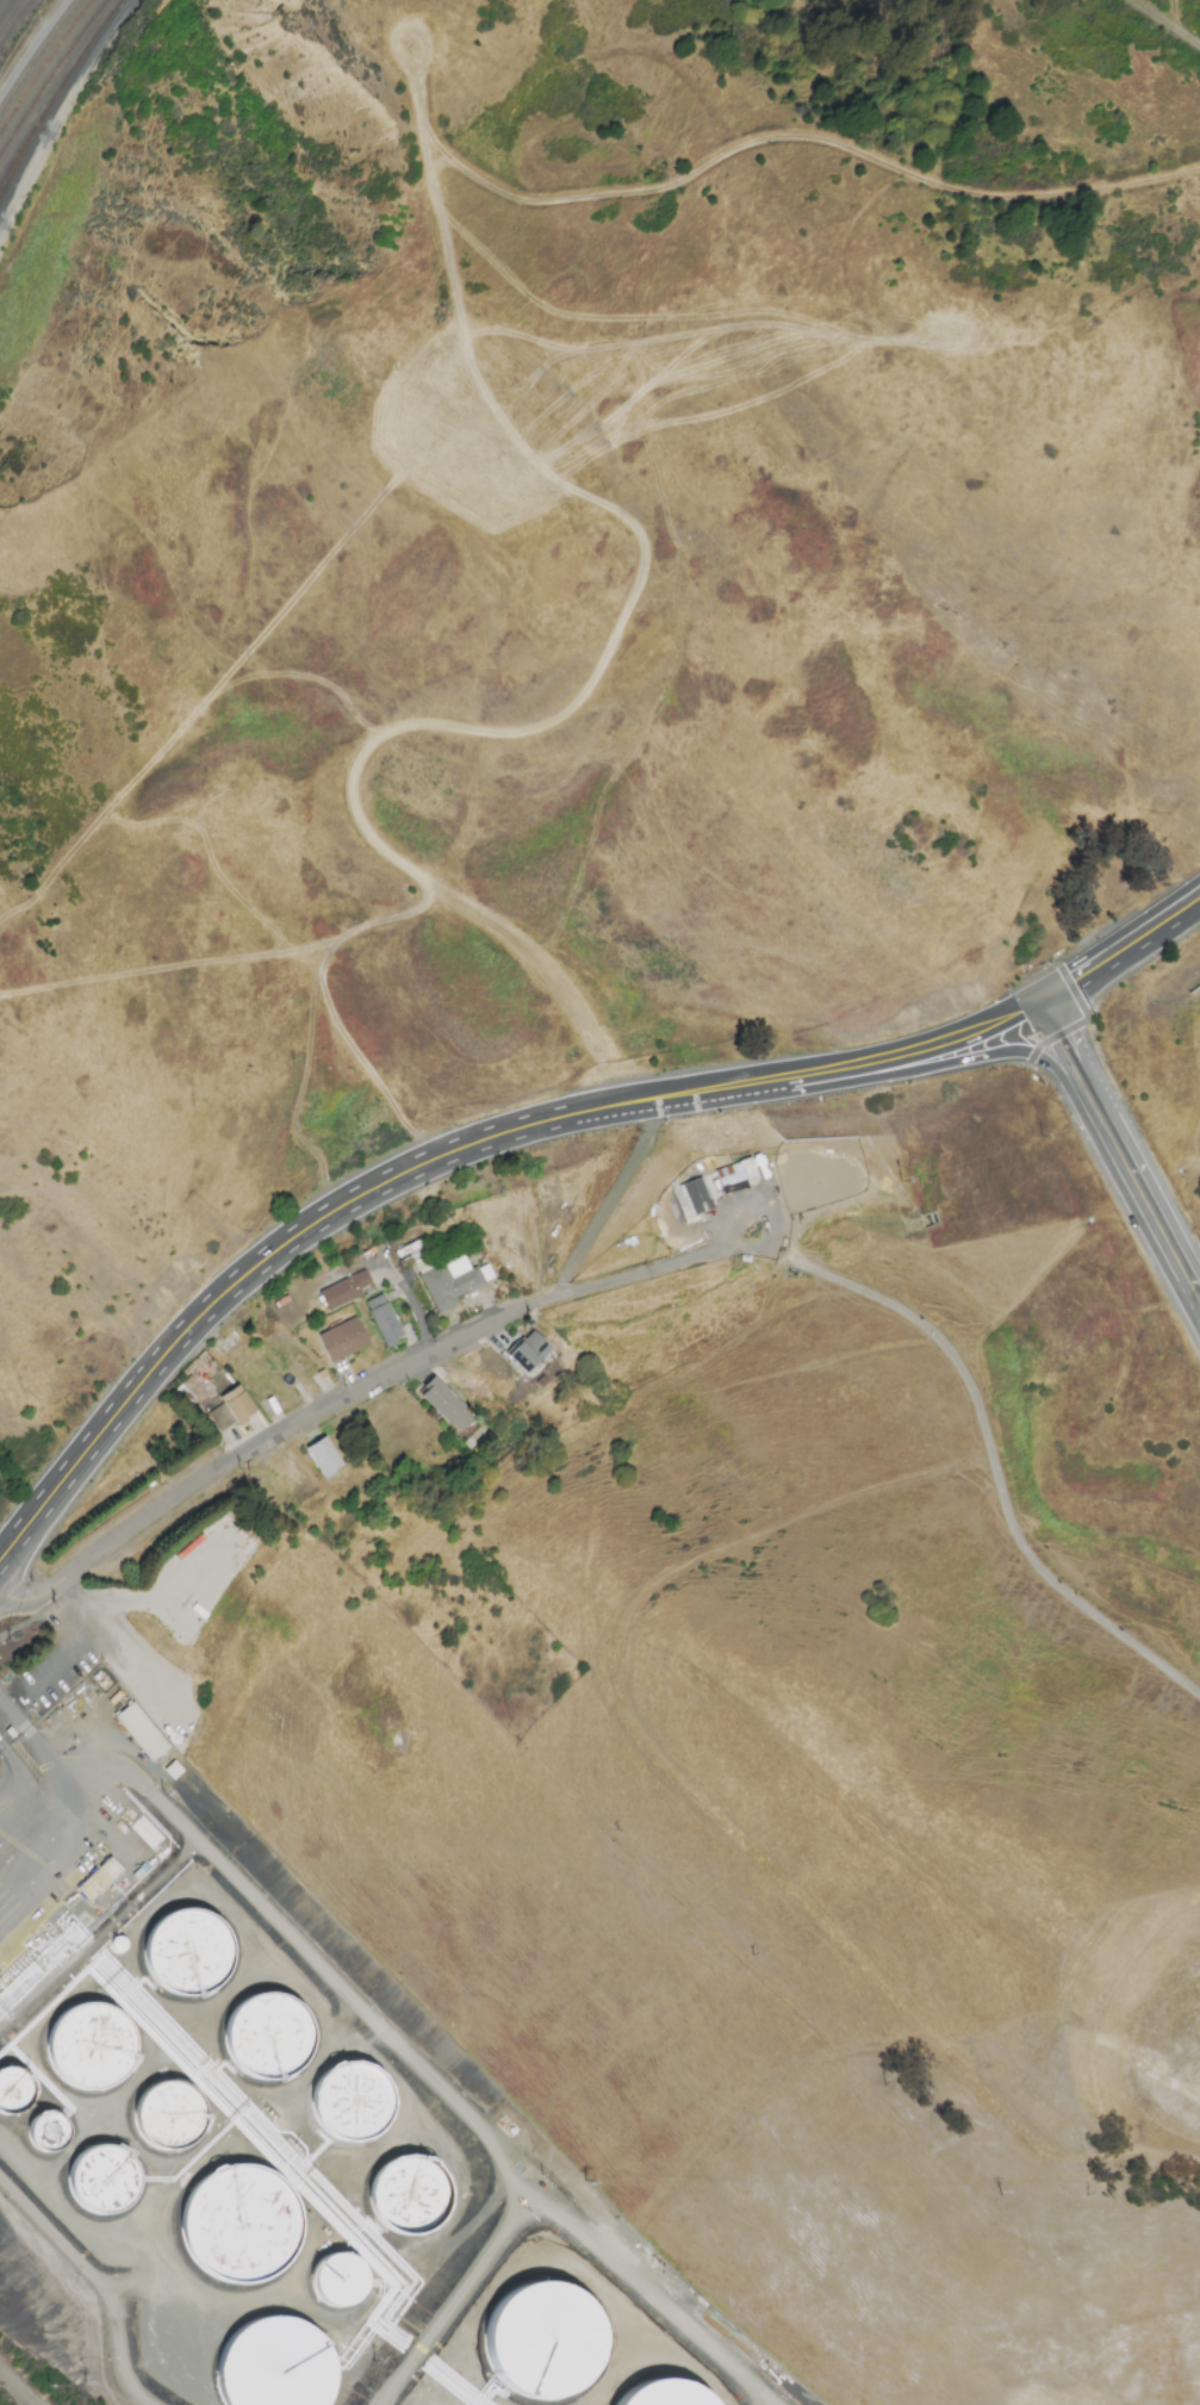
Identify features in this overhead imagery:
road: (1181, 15)
road: (1163, 21)
railway: (37, 55)
railway: (48, 68)
railway: (51, 77)
railway: (70, 77)
road: (758, 137)
railway: (11, 175)
railway: (11, 181)
road: (1119, 947)
traffic signals: (1039, 998)
road: (938, 1043)
road: (1064, 1048)
road: (965, 1058)
road: (740, 1082)
building: (735, 1173)
road: (604, 1195)
building: (691, 1198)
road: (1144, 1199)
road: (273, 1259)
building: (343, 1289)
road: (1199, 1300)
building: (383, 1319)
building: (342, 1340)
building: (528, 1350)
road: (348, 1398)
building: (444, 1405)
building: (229, 1409)
road: (988, 1435)
building: (323, 1456)
building: (139, 1732)
road: (31, 1757)
building: (147, 1833)
building: (99, 1878)
building: (185, 1953)
storage tank: (185, 1953)
building: (266, 2038)
storage tank: (266, 2038)
road: (391, 2038)
building: (88, 2047)
storage tank: (88, 2047)
building: (13, 2095)
storage tank: (13, 2095)
building: (350, 2105)
storage tank: (350, 2105)
building: (166, 2119)
storage tank: (166, 2119)
building: (44, 2134)
storage tank: (44, 2134)
building: (99, 2182)
storage tank: (99, 2182)
building: (409, 2199)
storage tank: (409, 2199)
building: (256, 2226)
storage tank: (256, 2226)
road: (94, 2276)
building: (337, 2285)
storage tank: (337, 2285)
road: (455, 2300)
building: (543, 2344)
storage tank: (543, 2344)
building: (292, 2367)
storage tank: (292, 2367)
road: (14, 2390)
building: (664, 2397)
storage tank: (664, 2397)

